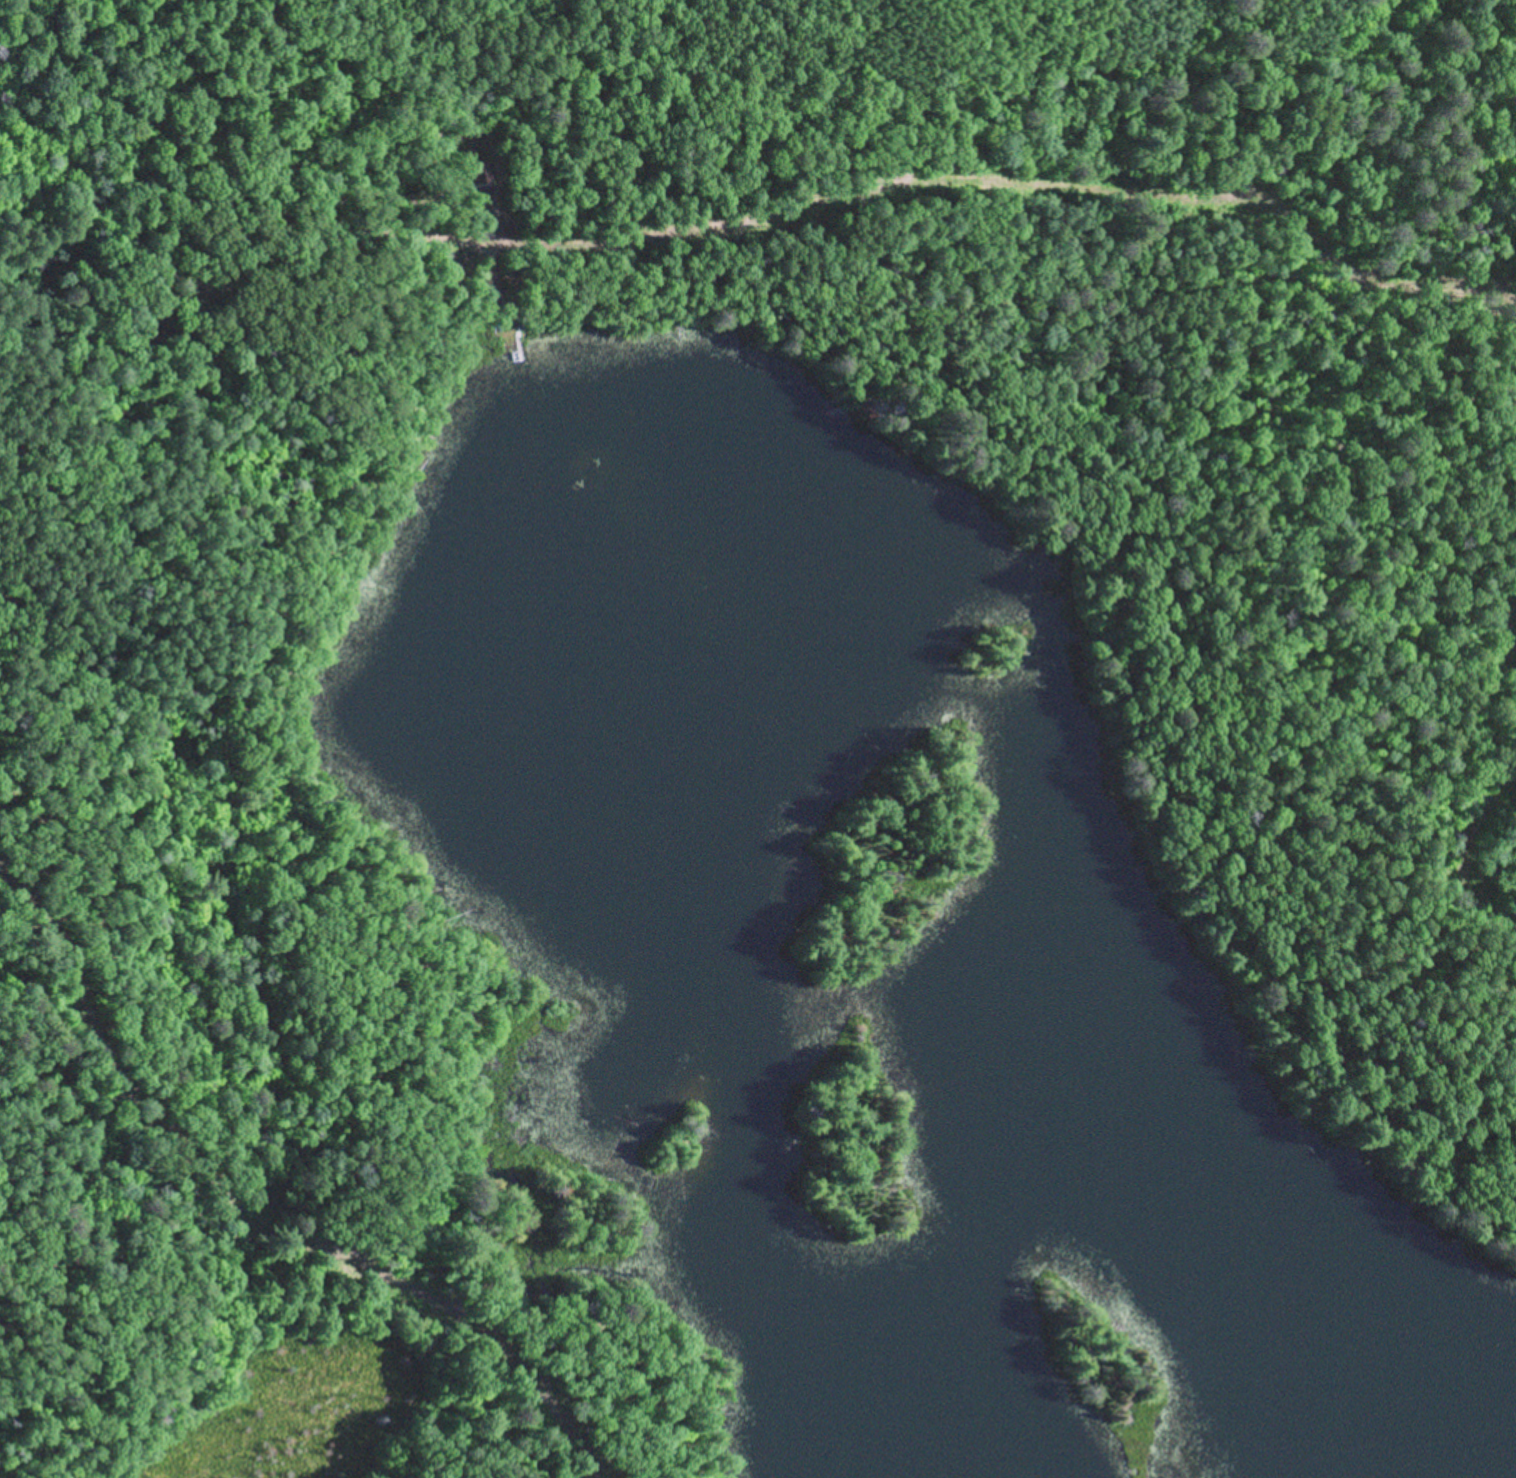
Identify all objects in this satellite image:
building: (482, 173)
building: (452, 261)
road: (162, 345)

